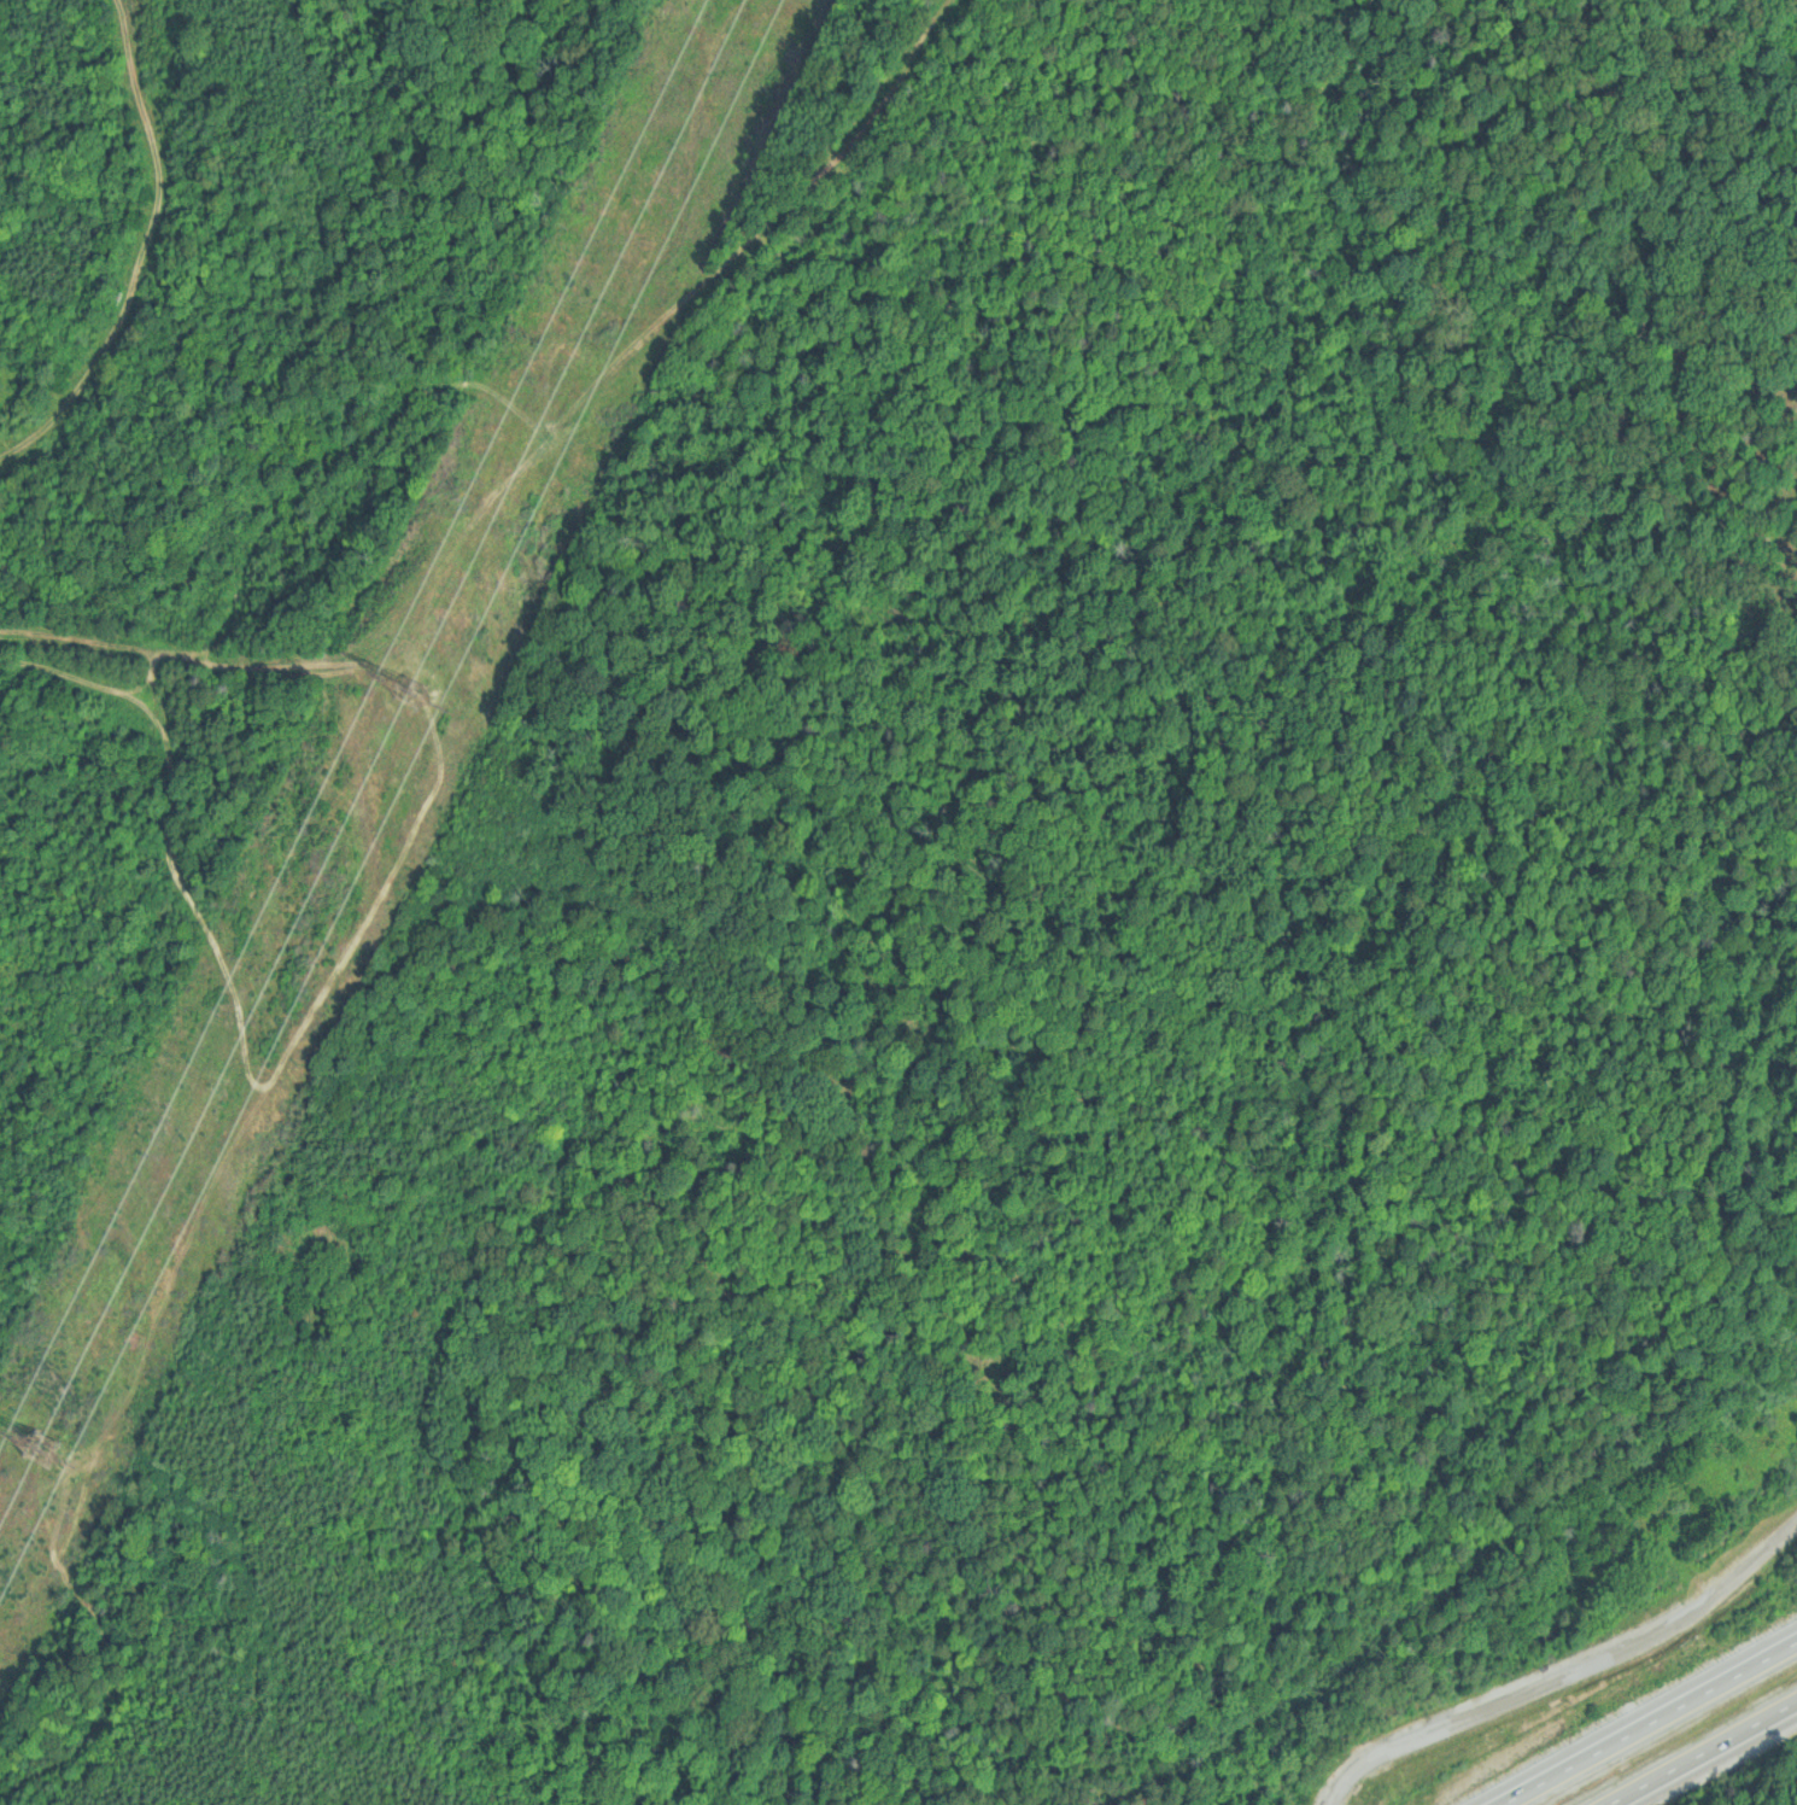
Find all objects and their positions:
road: (1550, 311)
power tower: (412, 691)
power tower: (47, 1445)
road: (1564, 1672)
road: (1646, 1723)
road: (1699, 1751)

